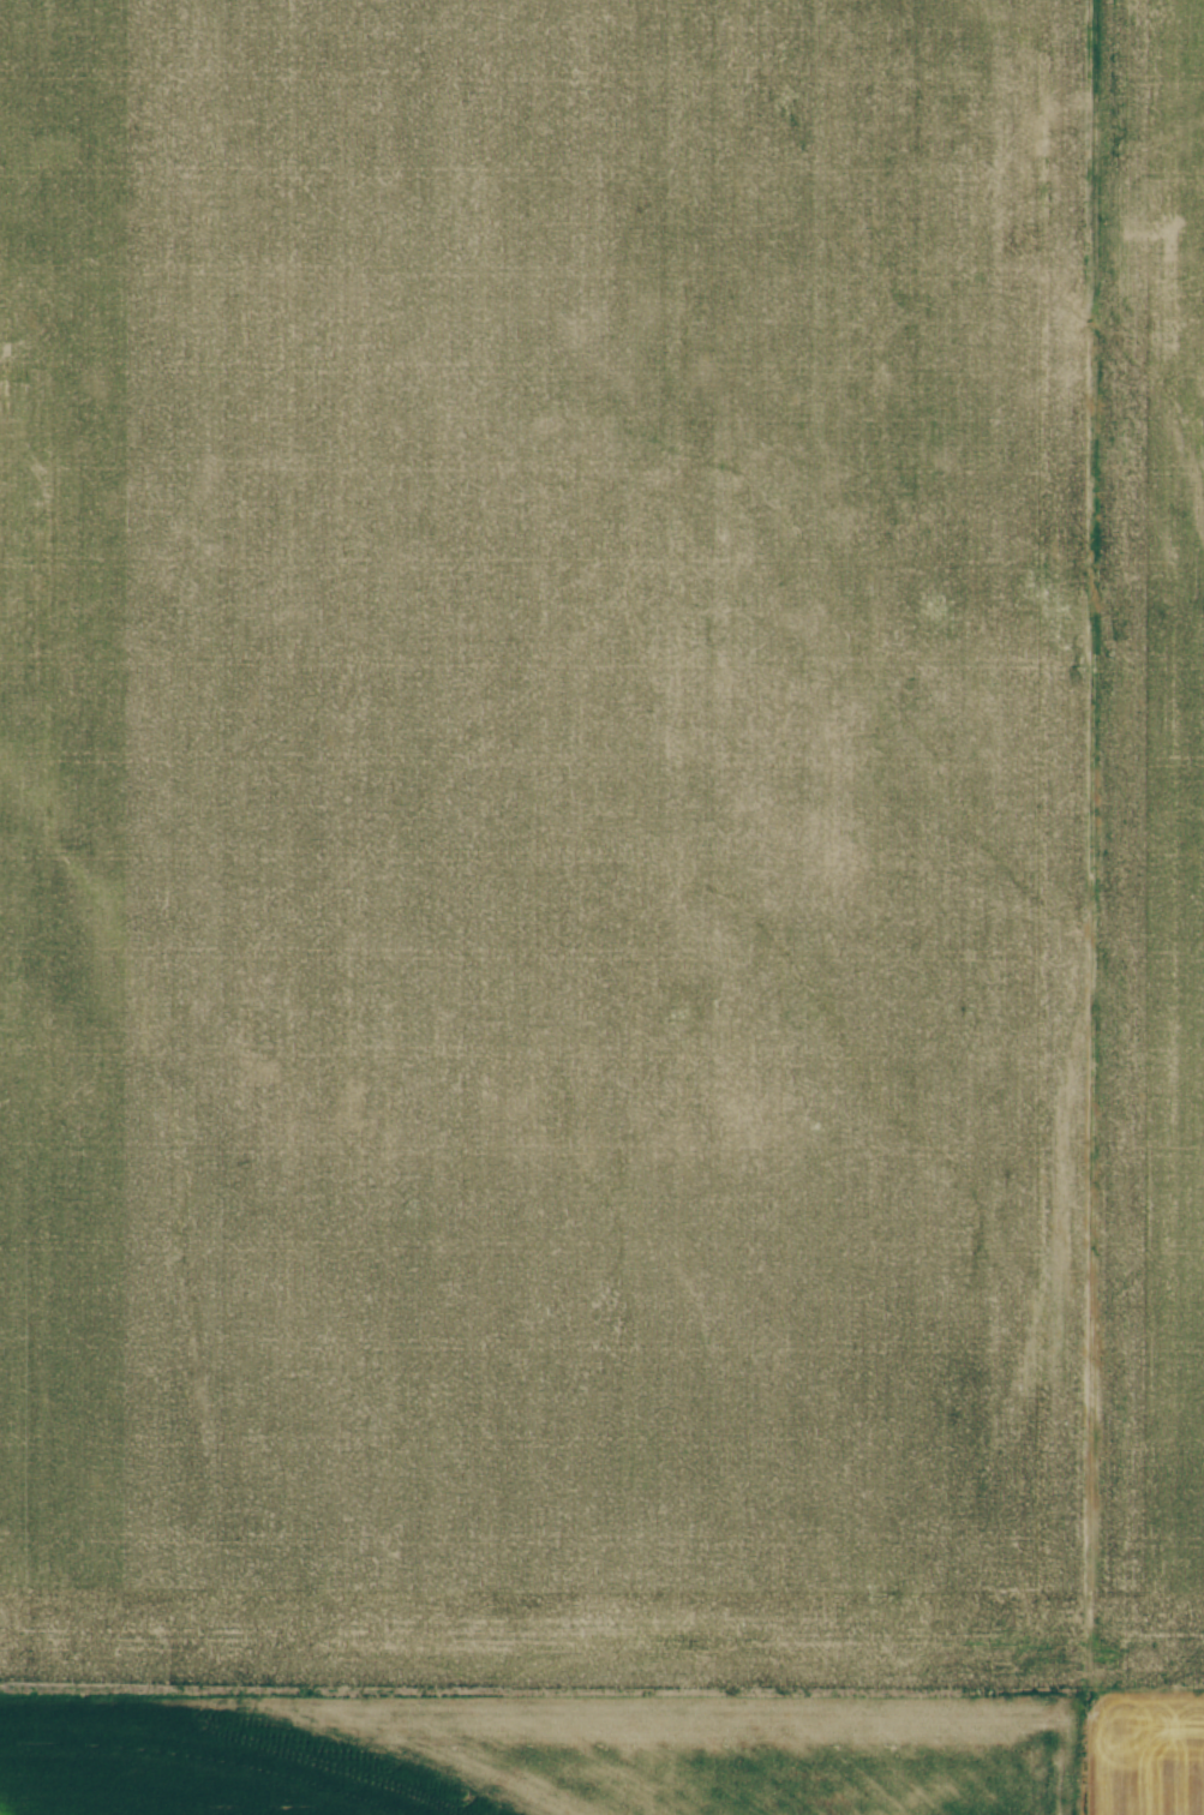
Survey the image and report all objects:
crop: (601, 907)

